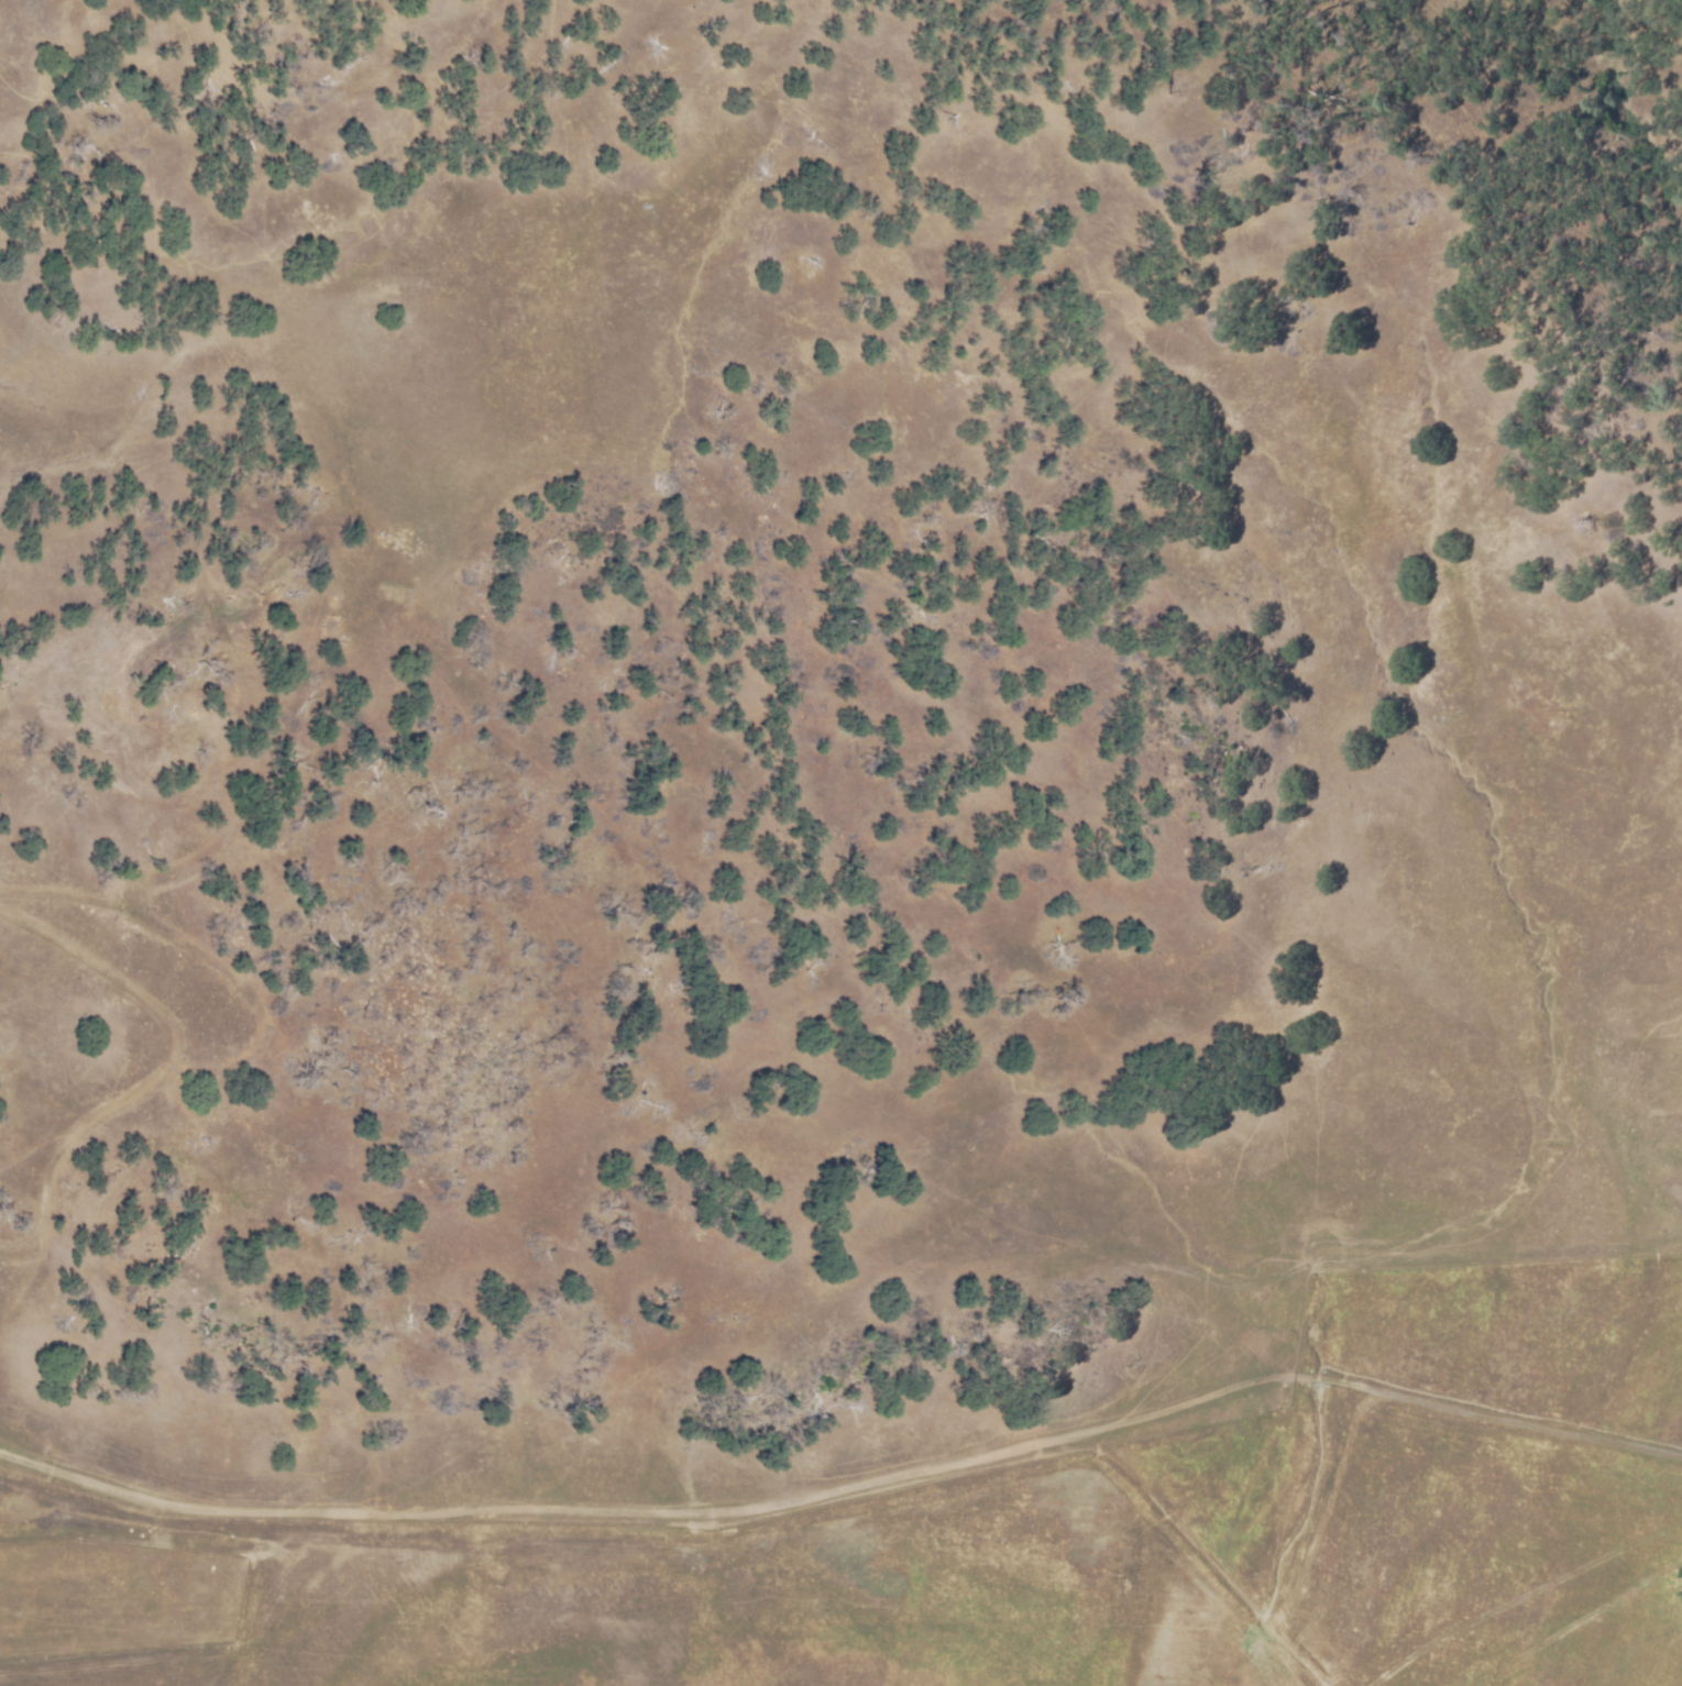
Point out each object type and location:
road: (847, 1485)

